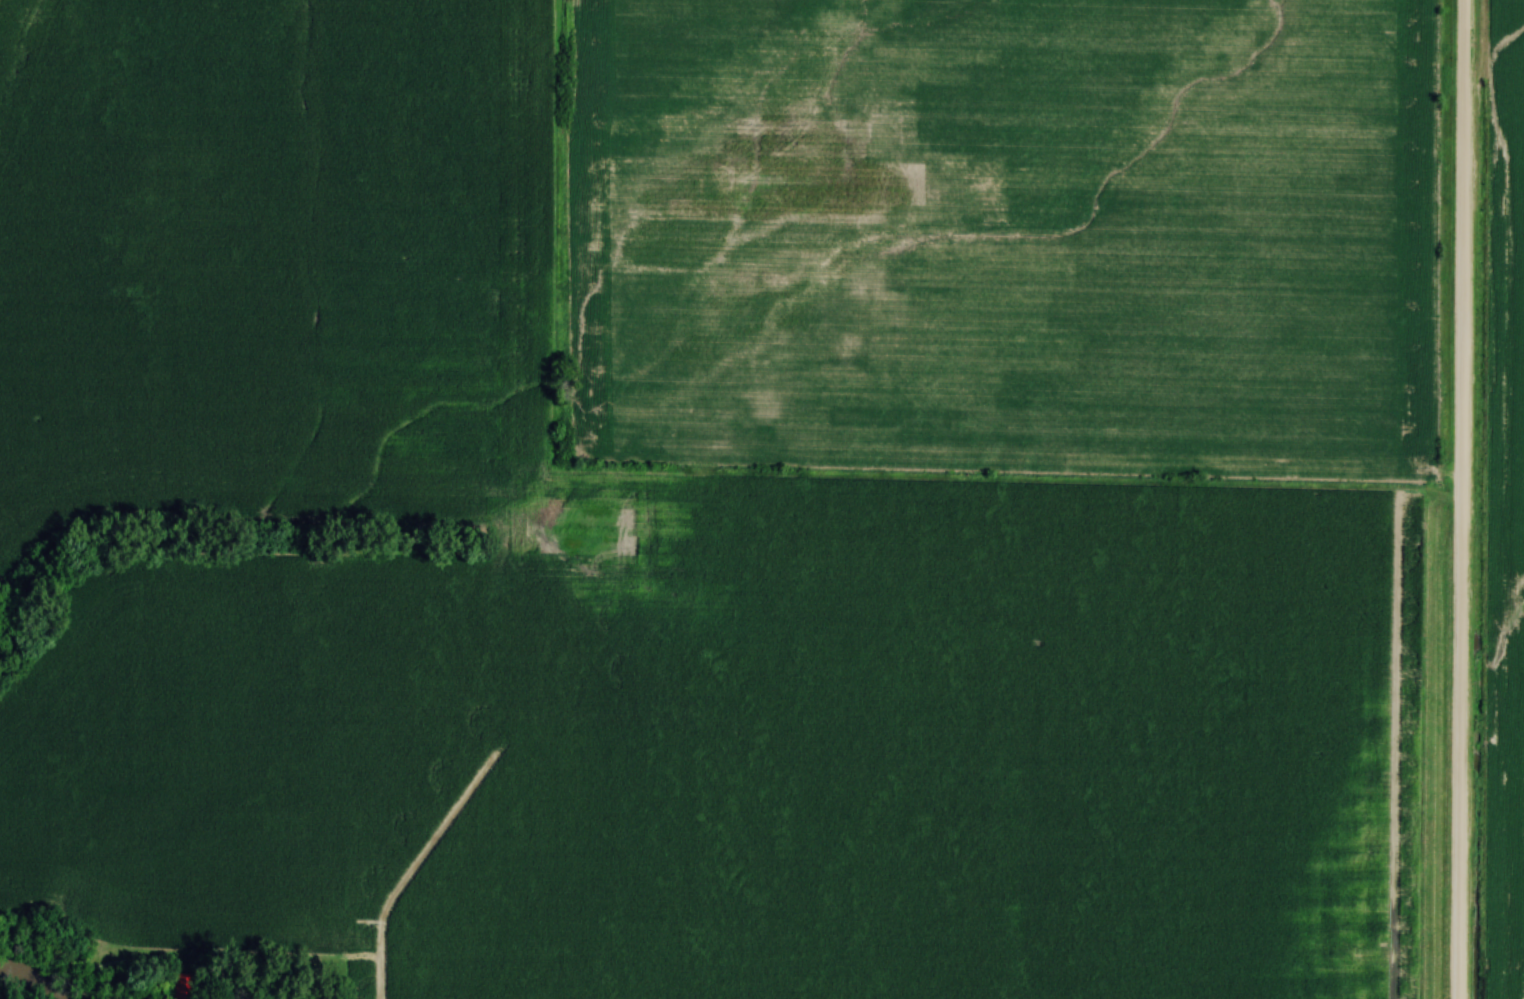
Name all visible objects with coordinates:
road: (1463, 499)
river: (41, 979)

